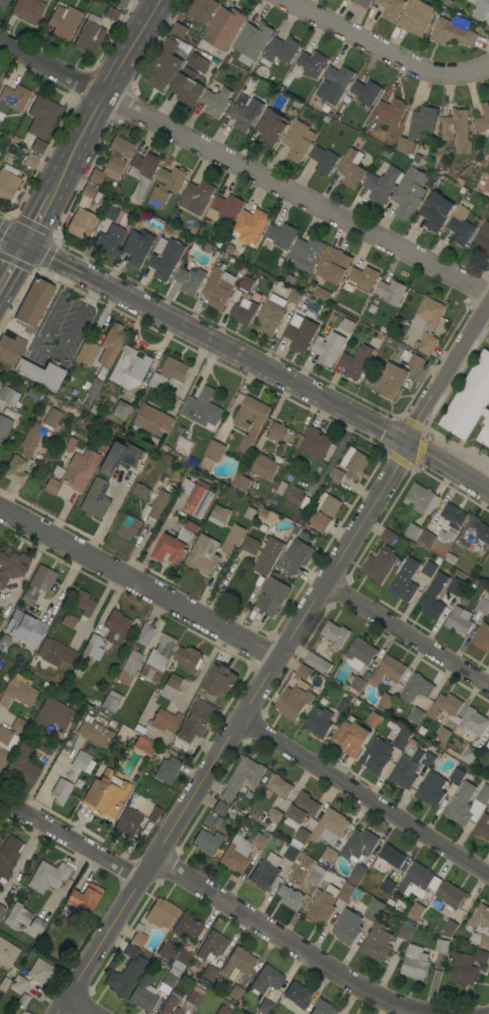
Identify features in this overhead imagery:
building: (120, 2)
building: (3, 3)
building: (363, 3)
building: (391, 8)
building: (480, 9)
building: (28, 10)
building: (203, 10)
building: (110, 13)
building: (417, 17)
building: (64, 21)
building: (224, 27)
building: (179, 29)
building: (454, 31)
building: (88, 37)
building: (252, 41)
building: (282, 49)
road: (383, 52)
building: (198, 63)
building: (312, 63)
building: (164, 65)
building: (0, 76)
building: (335, 84)
building: (187, 87)
building: (366, 92)
road: (100, 95)
building: (13, 98)
building: (216, 101)
building: (392, 110)
building: (245, 112)
building: (42, 116)
building: (483, 119)
building: (271, 128)
building: (457, 130)
building: (418, 131)
building: (14, 139)
building: (299, 140)
building: (37, 146)
building: (117, 156)
building: (324, 160)
building: (30, 161)
road: (244, 167)
building: (352, 169)
building: (142, 173)
building: (95, 176)
building: (8, 182)
building: (382, 185)
building: (167, 186)
building: (487, 187)
building: (88, 190)
building: (410, 193)
building: (196, 197)
building: (225, 208)
building: (436, 211)
building: (110, 213)
road: (36, 217)
building: (80, 223)
building: (251, 225)
building: (461, 227)
building: (282, 235)
building: (109, 239)
building: (483, 239)
building: (137, 247)
building: (306, 254)
building: (166, 258)
road: (11, 262)
building: (333, 265)
road: (68, 277)
building: (364, 278)
building: (190, 280)
building: (247, 284)
building: (219, 290)
road: (92, 292)
building: (391, 292)
building: (322, 294)
building: (294, 296)
building: (33, 303)
building: (430, 311)
building: (244, 312)
building: (271, 315)
building: (347, 325)
building: (300, 335)
building: (113, 337)
building: (426, 344)
road: (43, 348)
building: (328, 348)
building: (10, 349)
building: (87, 352)
road: (246, 357)
building: (413, 359)
building: (356, 361)
road: (228, 367)
building: (129, 368)
road: (445, 368)
building: (174, 369)
building: (40, 373)
building: (391, 380)
building: (158, 382)
building: (93, 389)
building: (32, 393)
building: (8, 395)
building: (78, 401)
building: (471, 403)
building: (92, 408)
building: (202, 408)
building: (121, 410)
building: (153, 420)
building: (251, 420)
building: (50, 422)
building: (4, 426)
building: (278, 432)
building: (29, 439)
building: (68, 444)
building: (317, 445)
building: (215, 450)
building: (119, 457)
building: (357, 465)
building: (264, 467)
building: (15, 470)
building: (56, 471)
building: (75, 472)
building: (336, 476)
building: (242, 482)
building: (270, 489)
building: (141, 492)
building: (196, 497)
building: (421, 498)
building: (94, 499)
building: (156, 504)
building: (296, 504)
building: (326, 511)
building: (249, 513)
building: (219, 515)
building: (267, 516)
road: (106, 517)
building: (191, 526)
building: (456, 526)
building: (129, 527)
building: (413, 531)
building: (476, 534)
building: (388, 536)
building: (233, 540)
building: (249, 544)
building: (173, 547)
building: (204, 554)
building: (269, 556)
building: (296, 557)
building: (450, 558)
building: (438, 560)
building: (11, 564)
building: (379, 564)
building: (429, 569)
building: (437, 579)
building: (405, 580)
building: (37, 584)
road: (137, 584)
building: (456, 588)
building: (273, 596)
building: (462, 600)
building: (83, 602)
building: (483, 605)
building: (431, 607)
building: (68, 620)
building: (1, 621)
building: (459, 621)
building: (25, 628)
road: (407, 632)
building: (107, 633)
building: (144, 634)
building: (335, 634)
road: (152, 637)
building: (482, 638)
road: (307, 639)
building: (56, 653)
building: (361, 654)
building: (157, 658)
building: (188, 659)
building: (317, 662)
building: (129, 667)
building: (388, 671)
building: (77, 672)
building: (303, 672)
building: (219, 679)
building: (358, 684)
building: (171, 686)
building: (416, 688)
building: (17, 691)
building: (295, 700)
building: (110, 701)
building: (386, 701)
building: (344, 705)
building: (444, 706)
building: (52, 714)
building: (416, 715)
building: (374, 720)
building: (164, 721)
building: (196, 721)
building: (319, 721)
building: (474, 722)
building: (18, 725)
building: (389, 725)
road: (234, 728)
building: (95, 733)
building: (443, 734)
building: (352, 736)
building: (401, 739)
building: (69, 742)
building: (487, 743)
building: (6, 745)
building: (143, 745)
building: (441, 745)
building: (436, 751)
building: (470, 754)
building: (377, 755)
building: (80, 762)
building: (23, 764)
building: (410, 767)
building: (167, 770)
building: (457, 775)
building: (242, 778)
building: (279, 786)
building: (451, 788)
building: (432, 789)
building: (60, 791)
building: (105, 794)
road: (364, 795)
building: (483, 795)
building: (461, 804)
building: (219, 808)
building: (303, 808)
building: (154, 813)
building: (275, 815)
building: (207, 819)
building: (127, 822)
building: (330, 826)
building: (482, 826)
building: (302, 835)
road: (70, 838)
building: (260, 841)
building: (206, 842)
building: (290, 852)
building: (236, 853)
building: (359, 853)
building: (329, 855)
building: (8, 856)
building: (393, 856)
building: (265, 872)
building: (317, 875)
building: (48, 876)
building: (418, 880)
building: (391, 883)
building: (345, 892)
building: (451, 895)
building: (290, 897)
building: (83, 899)
building: (426, 900)
building: (320, 907)
building: (1, 909)
building: (374, 910)
building: (416, 912)
building: (160, 913)
building: (17, 916)
building: (37, 925)
building: (186, 926)
building: (348, 926)
building: (450, 926)
building: (480, 927)
building: (406, 930)
road: (282, 938)
building: (134, 942)
building: (378, 942)
building: (211, 946)
building: (443, 946)
building: (165, 951)
building: (7, 953)
building: (482, 956)
building: (180, 960)
building: (440, 960)
building: (238, 961)
building: (416, 963)
building: (463, 970)
building: (40, 971)
building: (208, 974)
building: (123, 975)
building: (170, 977)
building: (266, 979)
building: (5, 981)
building: (18, 983)
building: (163, 991)
building: (235, 992)
building: (175, 993)
building: (143, 994)
building: (195, 994)
building: (297, 995)
building: (23, 1000)
road: (79, 1005)
building: (169, 1006)
building: (265, 1006)
building: (323, 1008)
building: (223, 1010)
building: (24, 1012)

